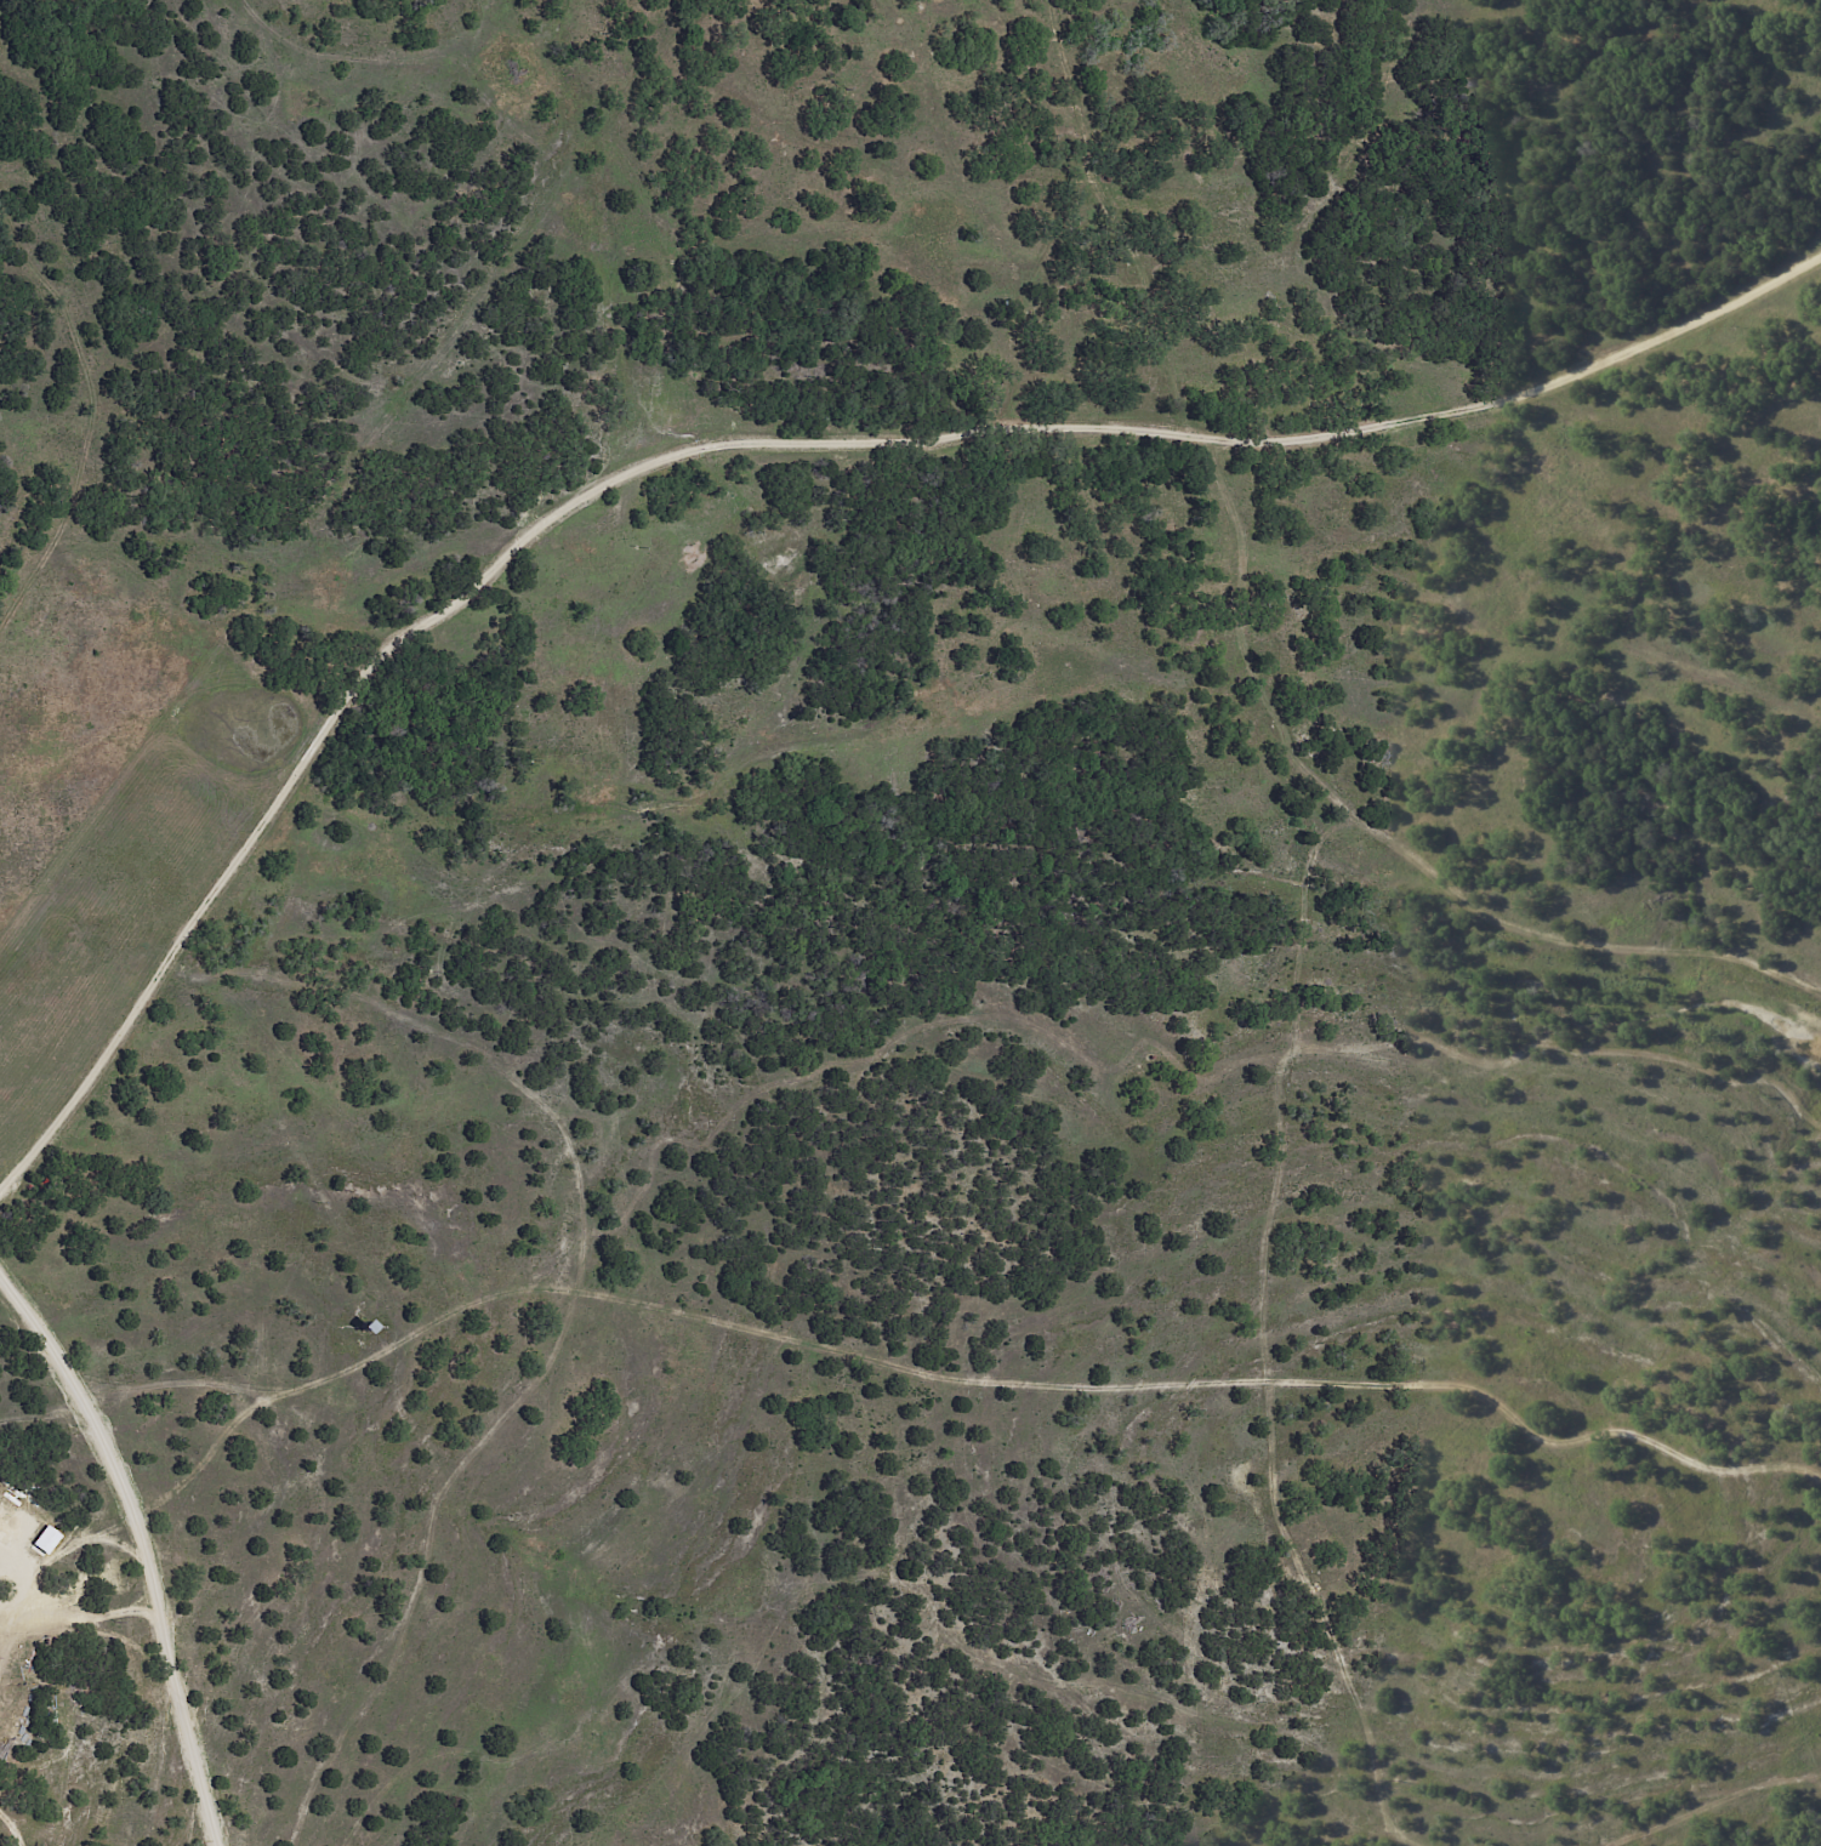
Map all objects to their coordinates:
road: (127, 1514)
building: (42, 1540)
road: (29, 1617)
road: (183, 1726)

